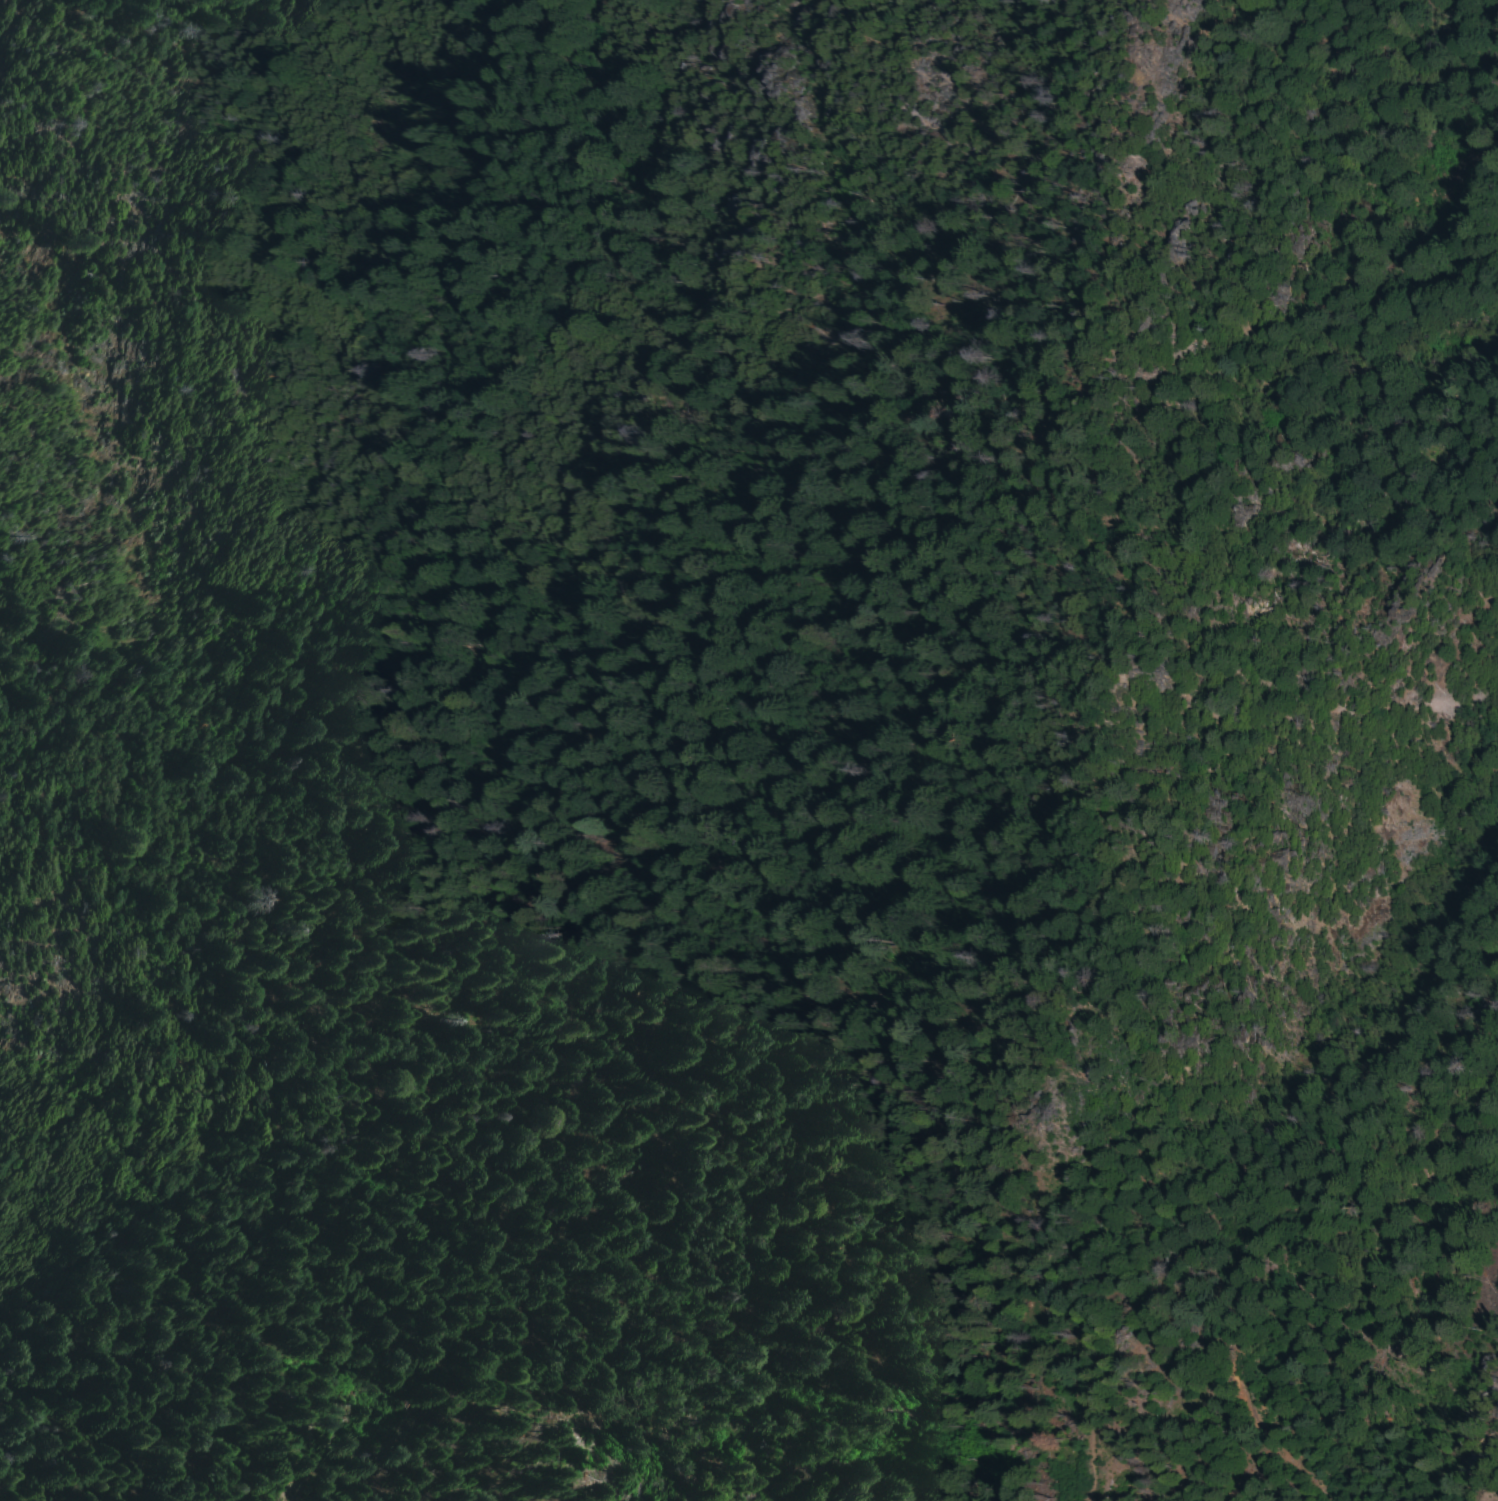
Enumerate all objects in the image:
road: (1086, 1433)

